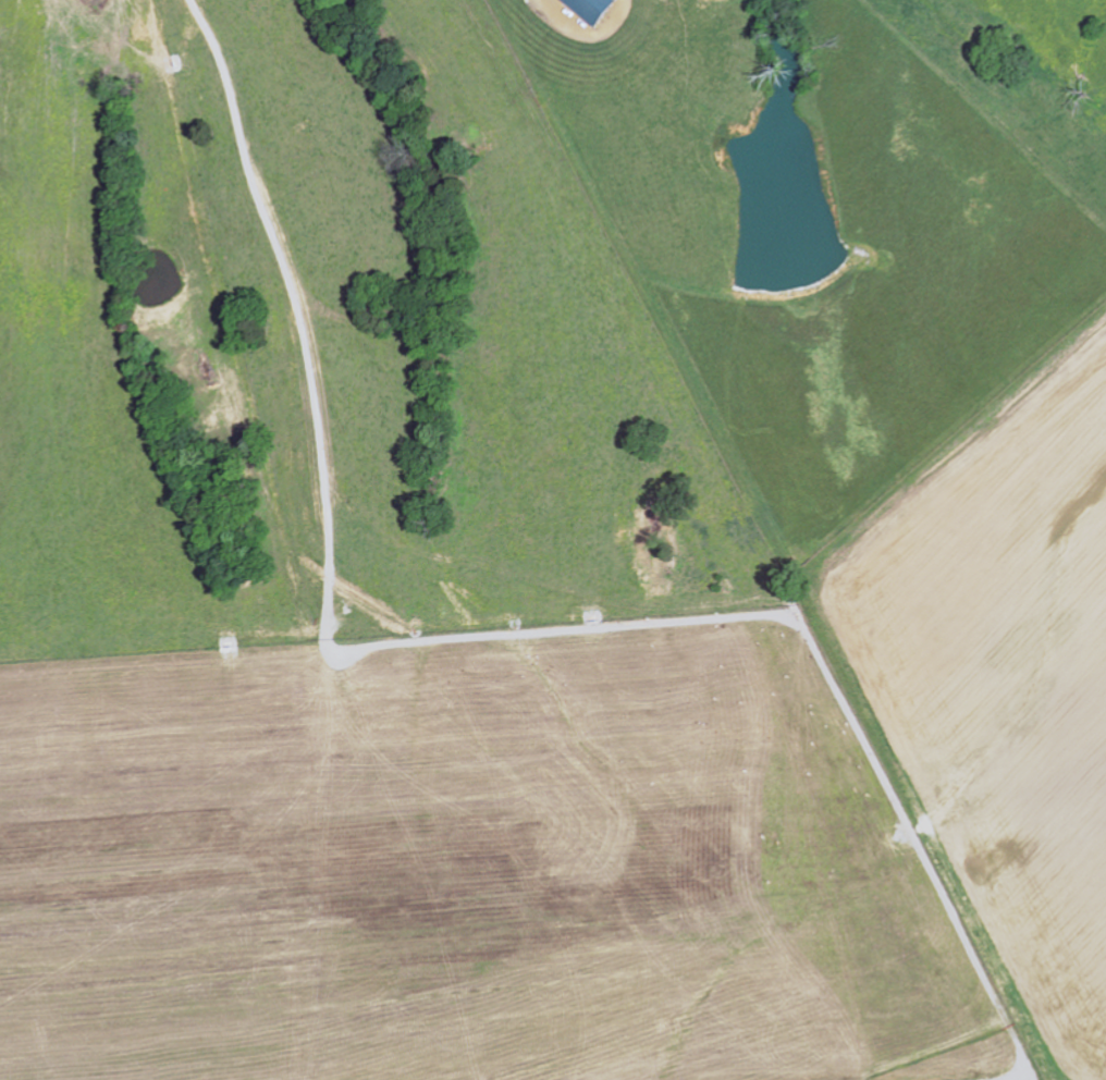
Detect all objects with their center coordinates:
building: (588, 9)

